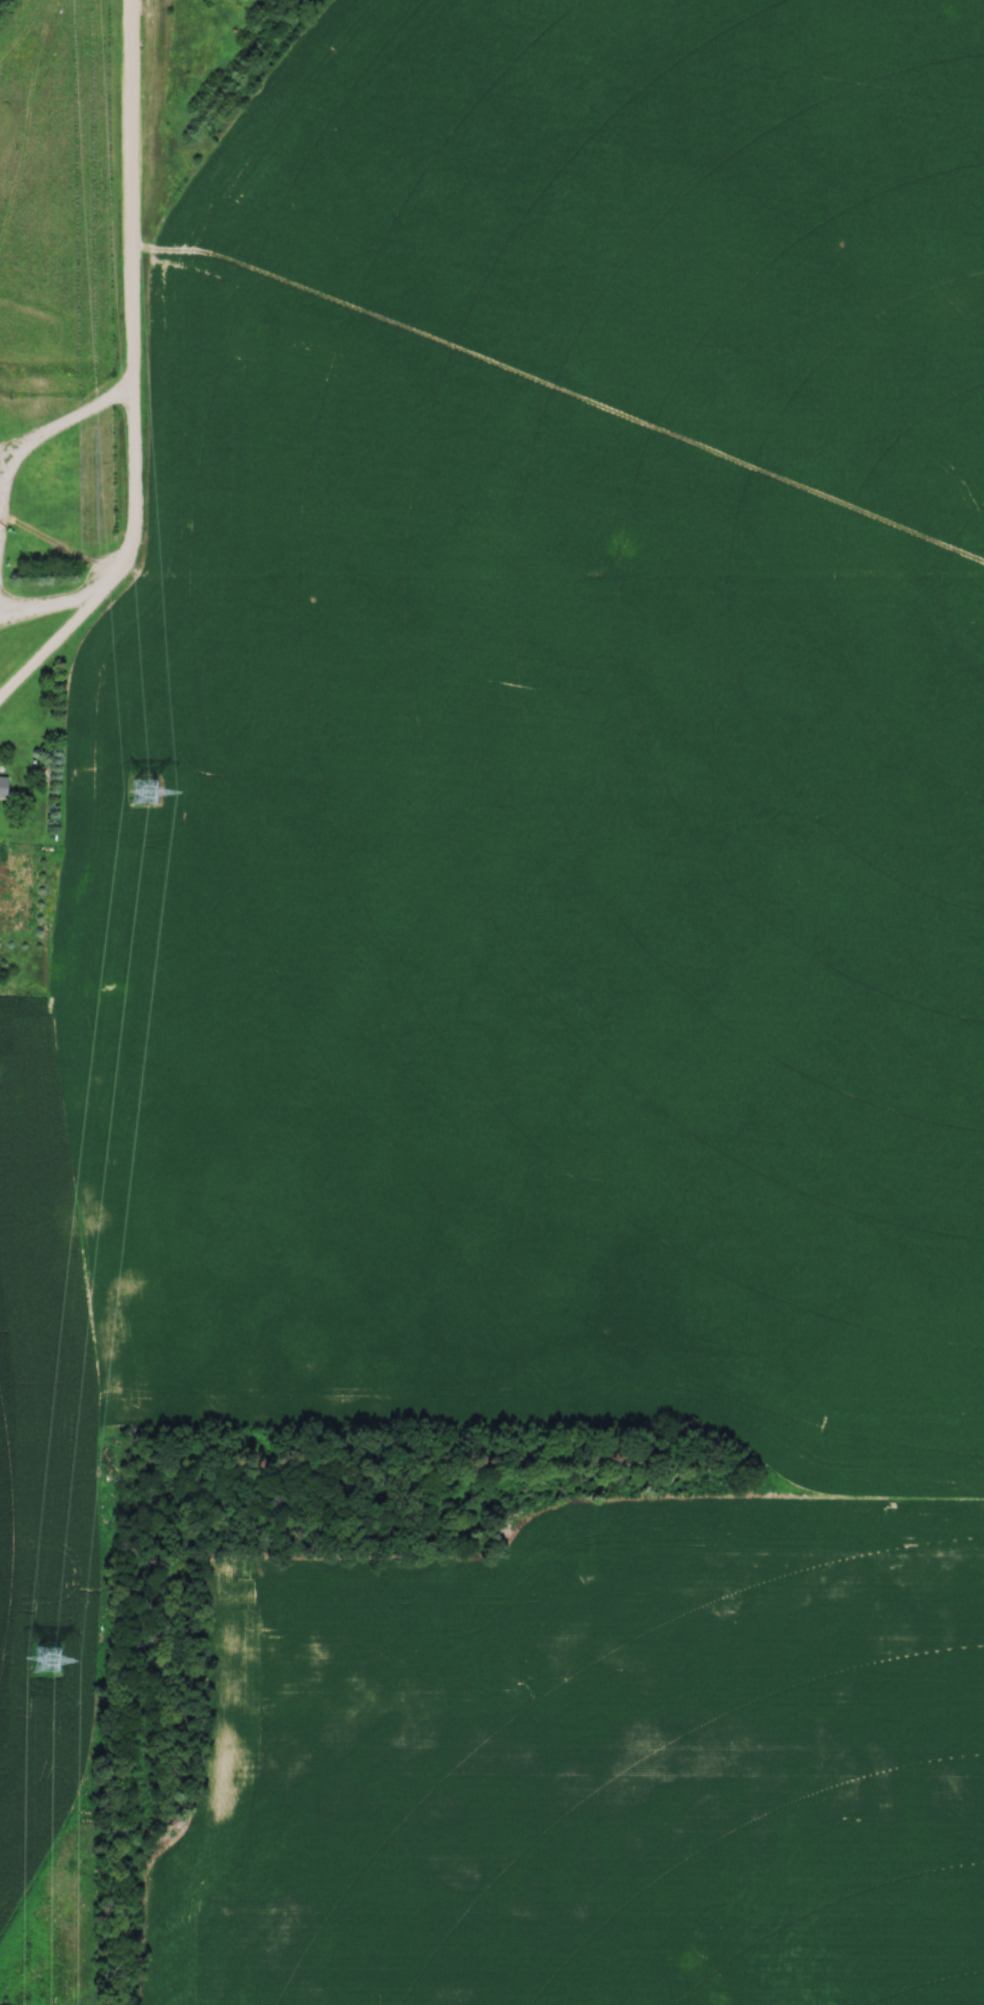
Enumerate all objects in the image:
road: (134, 307)
road: (83, 616)
building: (6, 787)
power tower: (150, 794)
power tower: (51, 1659)

